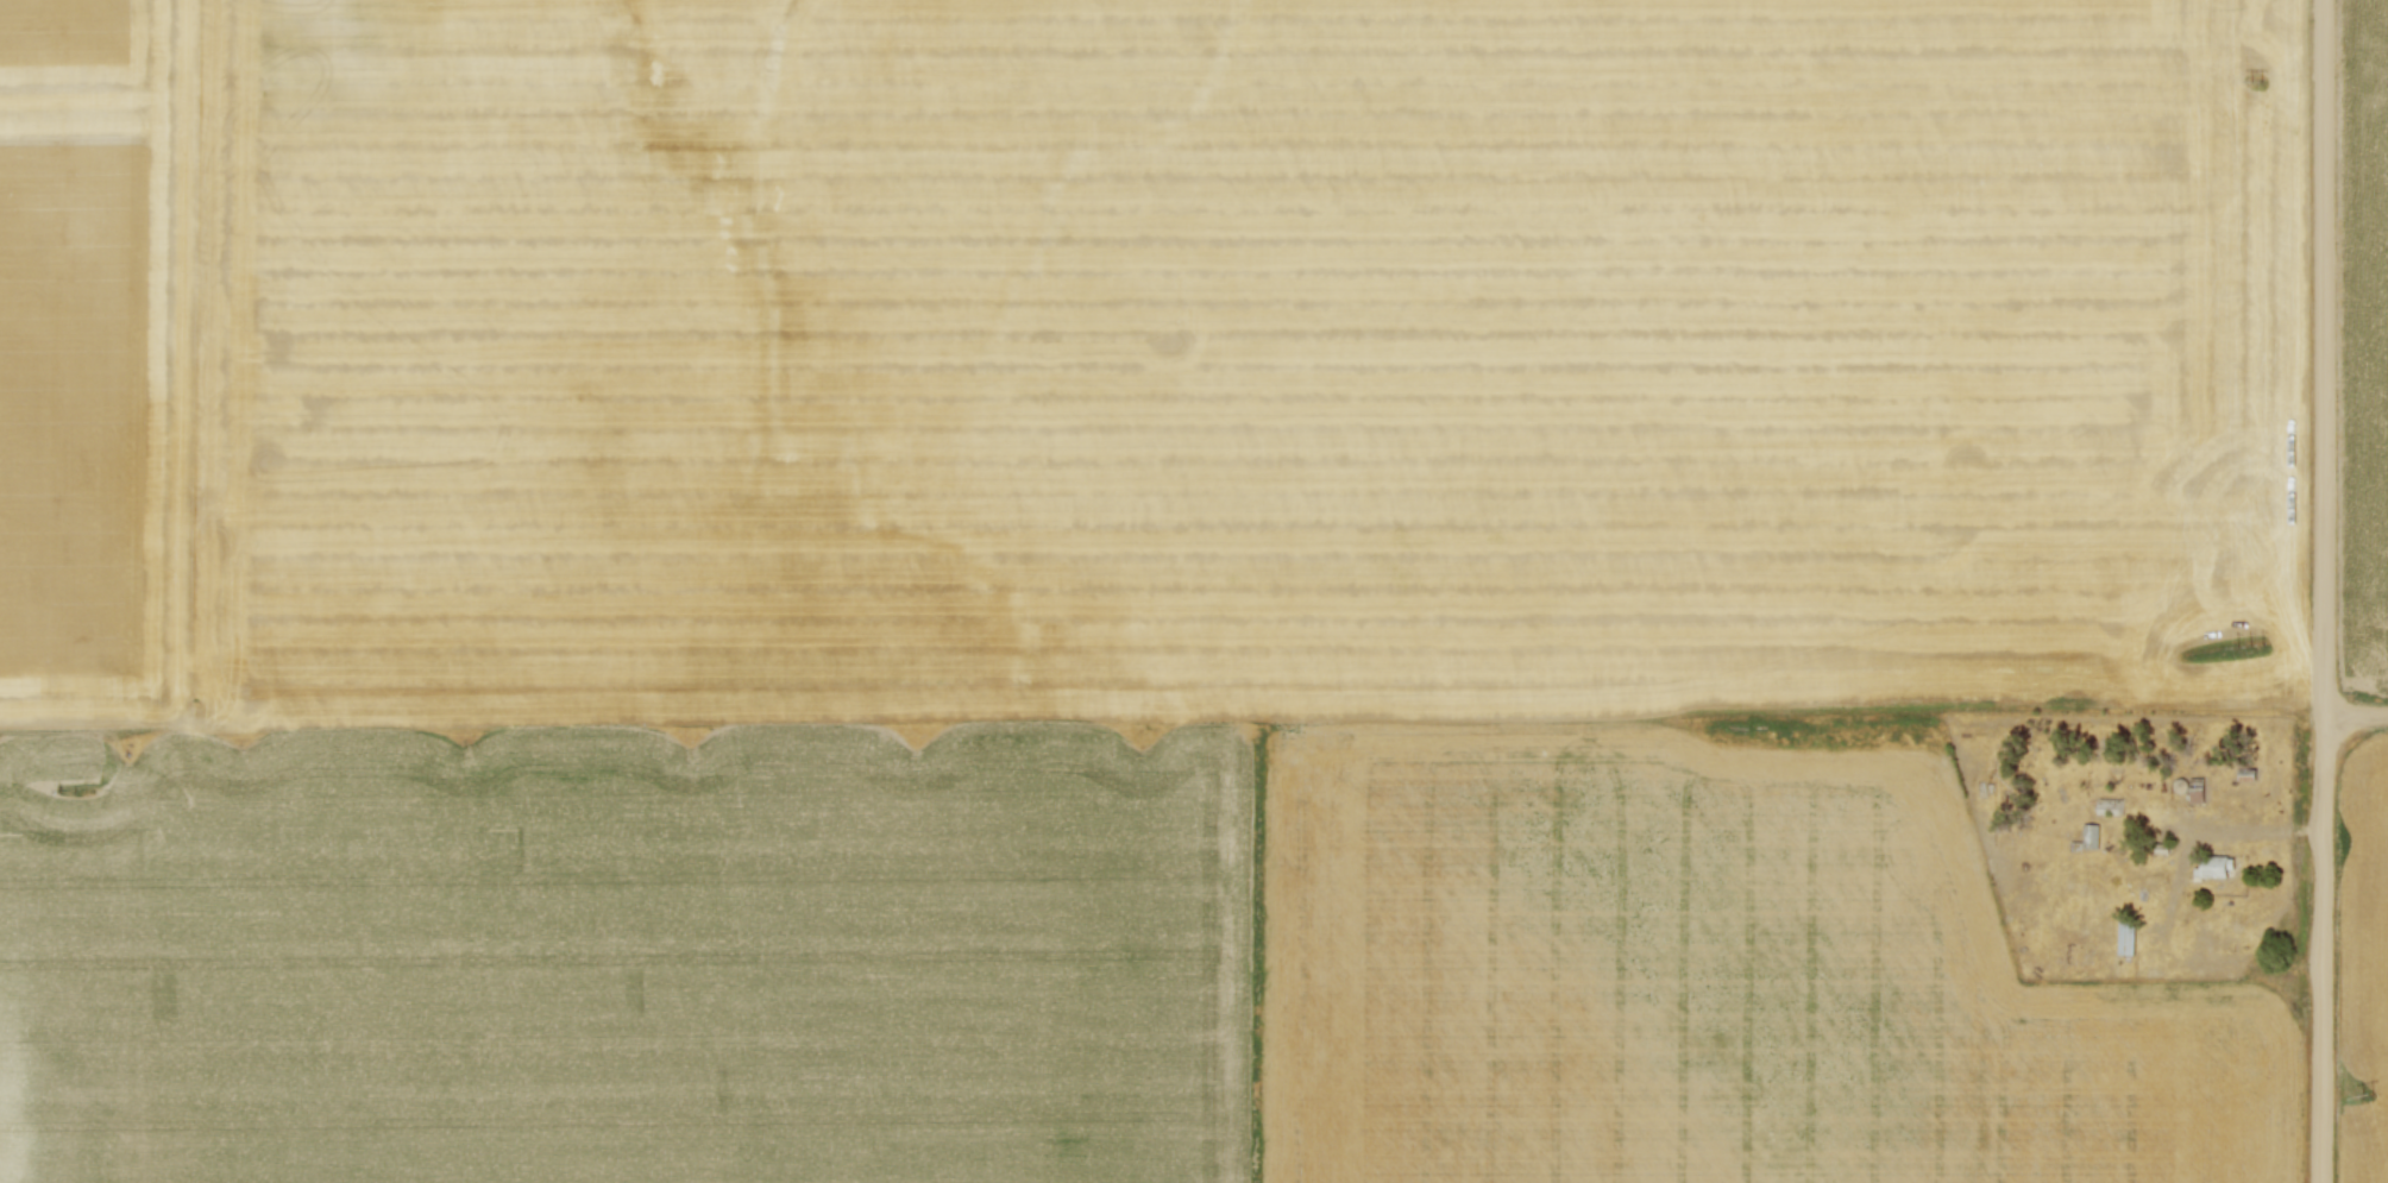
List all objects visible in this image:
power tower: (2251, 81)
crop: (2365, 355)
crop: (1113, 581)
road: (2324, 591)
power tower: (2249, 648)
road: (2356, 715)
building: (2245, 776)
building: (2180, 784)
silo: (2180, 784)
building: (2198, 797)
building: (2111, 806)
road: (2239, 836)
building: (2086, 839)
building: (2218, 867)
building: (2126, 937)
crop: (2364, 965)
power tower: (2364, 1096)

